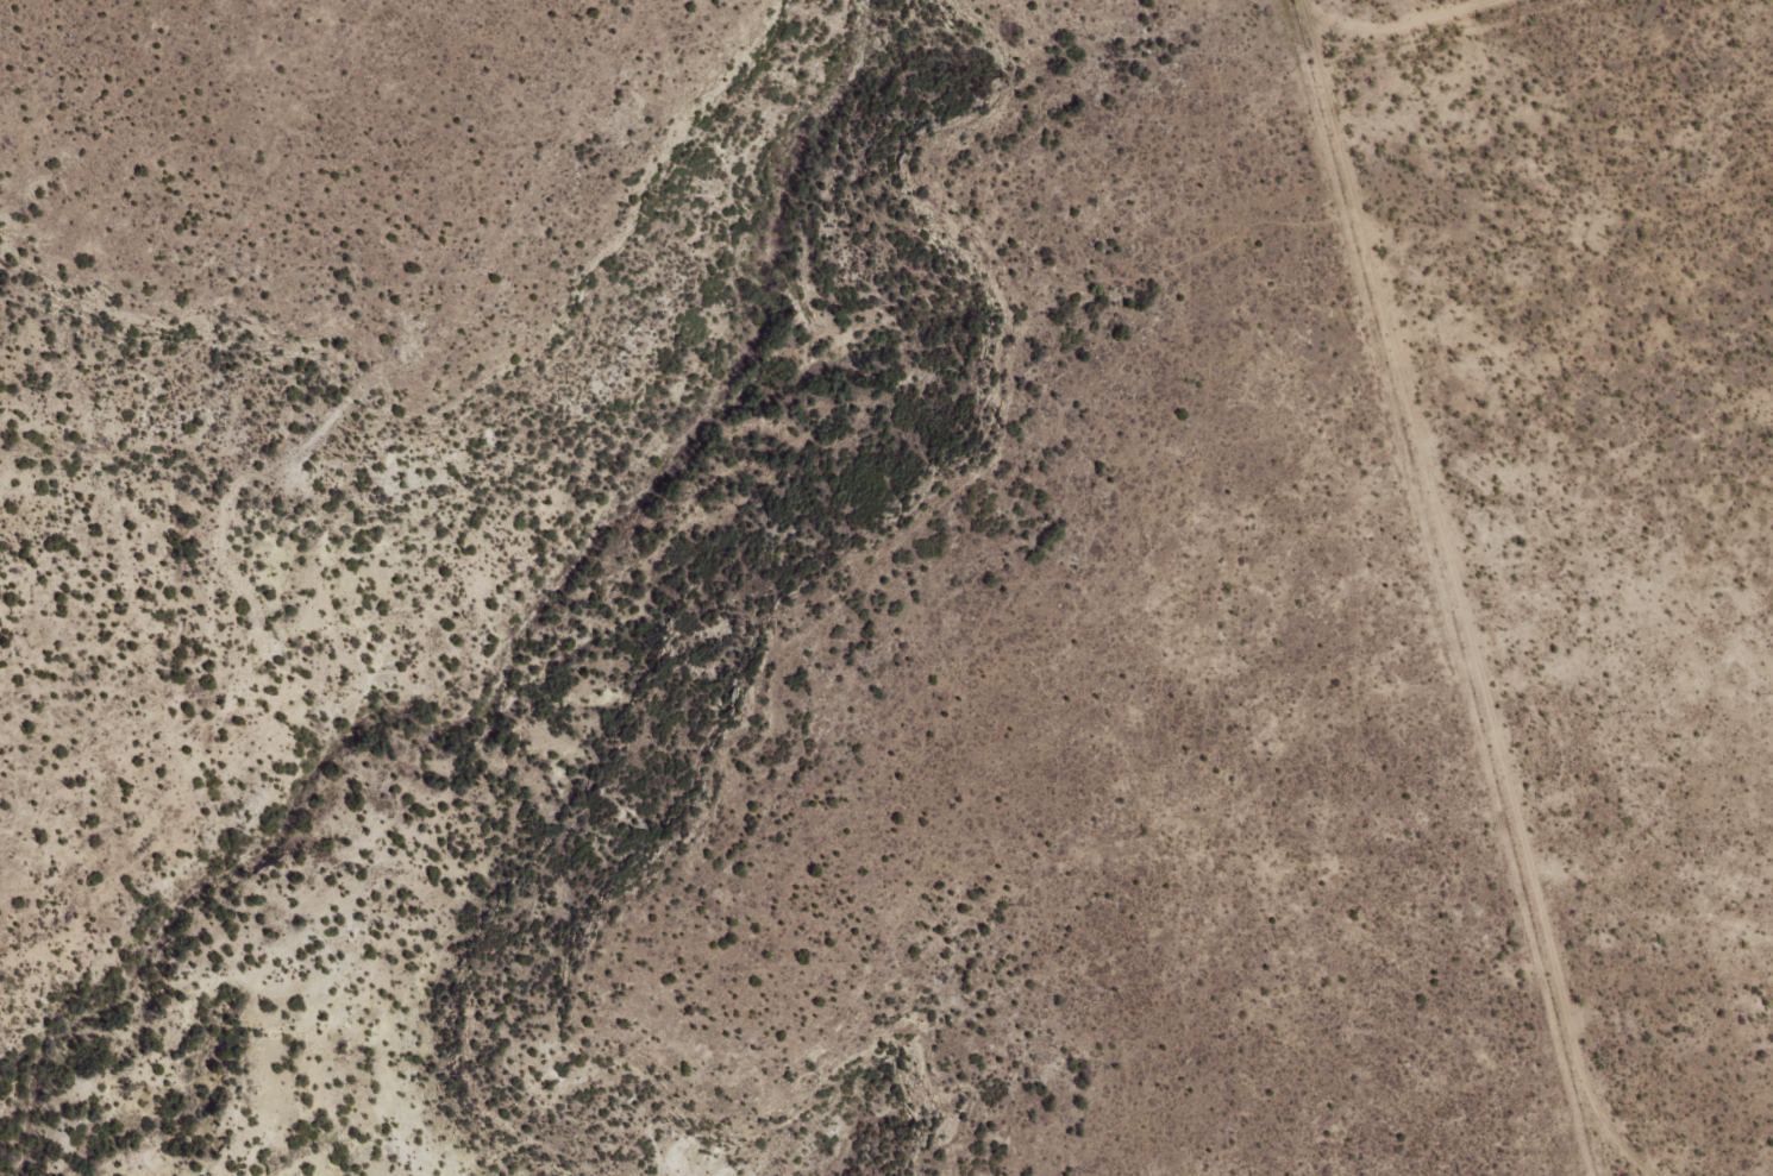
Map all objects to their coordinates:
road: (1470, 42)
road: (1431, 597)

